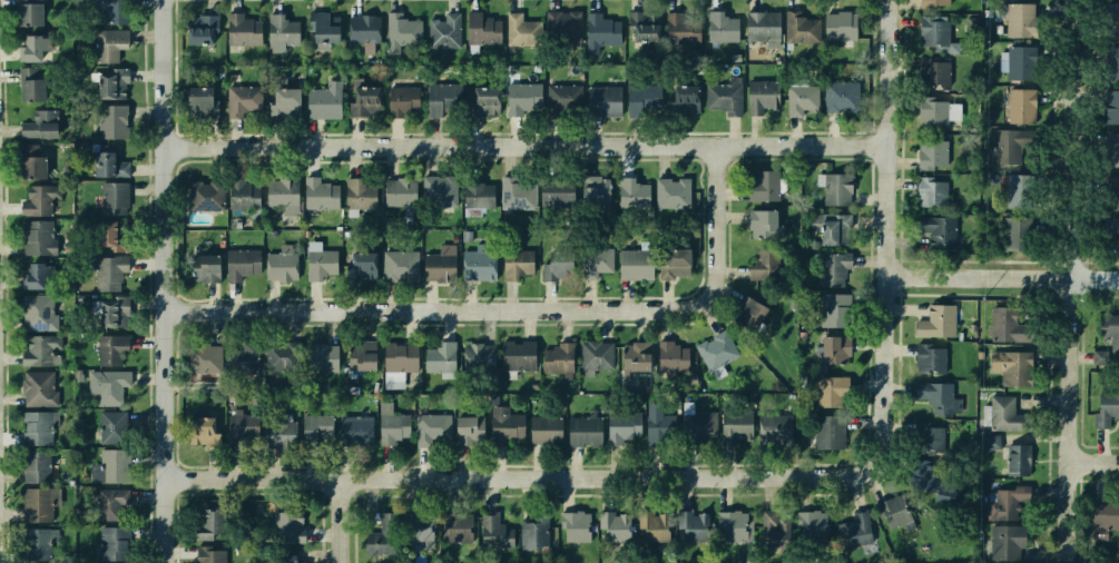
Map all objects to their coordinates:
building: (934, 3)
building: (112, 11)
building: (27, 12)
building: (1112, 19)
building: (638, 20)
building: (765, 20)
building: (1014, 21)
building: (566, 24)
building: (323, 26)
building: (362, 26)
building: (400, 26)
building: (480, 26)
building: (834, 26)
building: (671, 27)
building: (723, 27)
building: (798, 27)
building: (516, 28)
building: (599, 29)
building: (199, 30)
building: (243, 30)
building: (444, 30)
building: (933, 30)
building: (279, 33)
building: (717, 39)
building: (107, 47)
building: (32, 48)
building: (1020, 61)
building: (1113, 63)
building: (933, 72)
building: (107, 82)
building: (30, 87)
building: (519, 93)
building: (760, 93)
building: (196, 95)
building: (566, 96)
building: (640, 96)
building: (841, 96)
building: (722, 97)
building: (797, 97)
building: (362, 98)
building: (683, 98)
building: (242, 99)
building: (322, 99)
building: (436, 99)
building: (284, 100)
building: (605, 100)
building: (405, 101)
building: (483, 102)
building: (1111, 105)
building: (1021, 107)
building: (942, 113)
building: (37, 122)
building: (111, 122)
road: (530, 145)
building: (1005, 148)
building: (1113, 149)
building: (932, 154)
building: (30, 164)
building: (107, 164)
building: (592, 185)
building: (764, 186)
building: (477, 189)
building: (632, 190)
building: (838, 190)
building: (927, 190)
building: (1012, 190)
building: (513, 191)
building: (1111, 192)
building: (551, 194)
building: (671, 194)
building: (315, 195)
building: (357, 195)
building: (393, 195)
building: (435, 195)
building: (282, 196)
building: (112, 197)
building: (238, 198)
building: (37, 201)
building: (198, 204)
building: (762, 218)
building: (1112, 225)
building: (834, 228)
building: (108, 233)
building: (934, 233)
road: (892, 235)
building: (1014, 236)
building: (35, 237)
building: (1118, 246)
building: (763, 256)
building: (279, 261)
building: (405, 261)
building: (671, 261)
building: (239, 263)
building: (478, 264)
building: (593, 264)
building: (317, 265)
building: (436, 265)
building: (632, 265)
building: (517, 266)
building: (203, 267)
building: (364, 267)
building: (835, 267)
building: (549, 268)
building: (108, 273)
building: (32, 276)
road: (1005, 276)
road: (1074, 279)
road: (167, 280)
building: (746, 308)
building: (828, 309)
road: (517, 310)
building: (108, 312)
building: (36, 314)
building: (933, 319)
building: (1008, 323)
building: (1109, 327)
building: (110, 348)
building: (832, 349)
building: (37, 350)
building: (718, 350)
building: (400, 353)
building: (518, 354)
building: (245, 355)
building: (360, 355)
building: (477, 355)
building: (635, 355)
building: (671, 355)
building: (320, 356)
building: (439, 356)
building: (558, 356)
building: (1100, 357)
building: (592, 358)
building: (926, 359)
building: (198, 360)
building: (275, 362)
building: (1008, 366)
building: (39, 387)
building: (109, 387)
building: (825, 389)
building: (933, 395)
building: (1107, 404)
building: (1002, 413)
building: (235, 421)
building: (694, 421)
building: (660, 425)
building: (116, 426)
building: (353, 426)
building: (428, 426)
building: (462, 426)
building: (622, 426)
building: (736, 426)
building: (37, 427)
building: (391, 427)
building: (504, 427)
building: (278, 428)
building: (316, 428)
building: (579, 428)
building: (775, 428)
building: (195, 429)
building: (543, 429)
building: (826, 434)
building: (923, 438)
building: (1005, 456)
road: (1096, 462)
building: (36, 465)
building: (112, 465)
road: (0, 476)
road: (523, 477)
building: (930, 483)
building: (36, 504)
building: (109, 504)
building: (1005, 504)
building: (891, 513)
building: (1103, 515)
building: (204, 521)
road: (336, 521)
building: (609, 524)
building: (725, 524)
building: (283, 525)
building: (650, 525)
building: (688, 525)
building: (773, 525)
building: (571, 526)
building: (453, 527)
building: (805, 529)
building: (412, 530)
building: (853, 531)
building: (493, 532)
building: (529, 535)
building: (1005, 539)
building: (374, 541)
building: (112, 542)
building: (39, 544)
building: (207, 555)
building: (283, 556)

